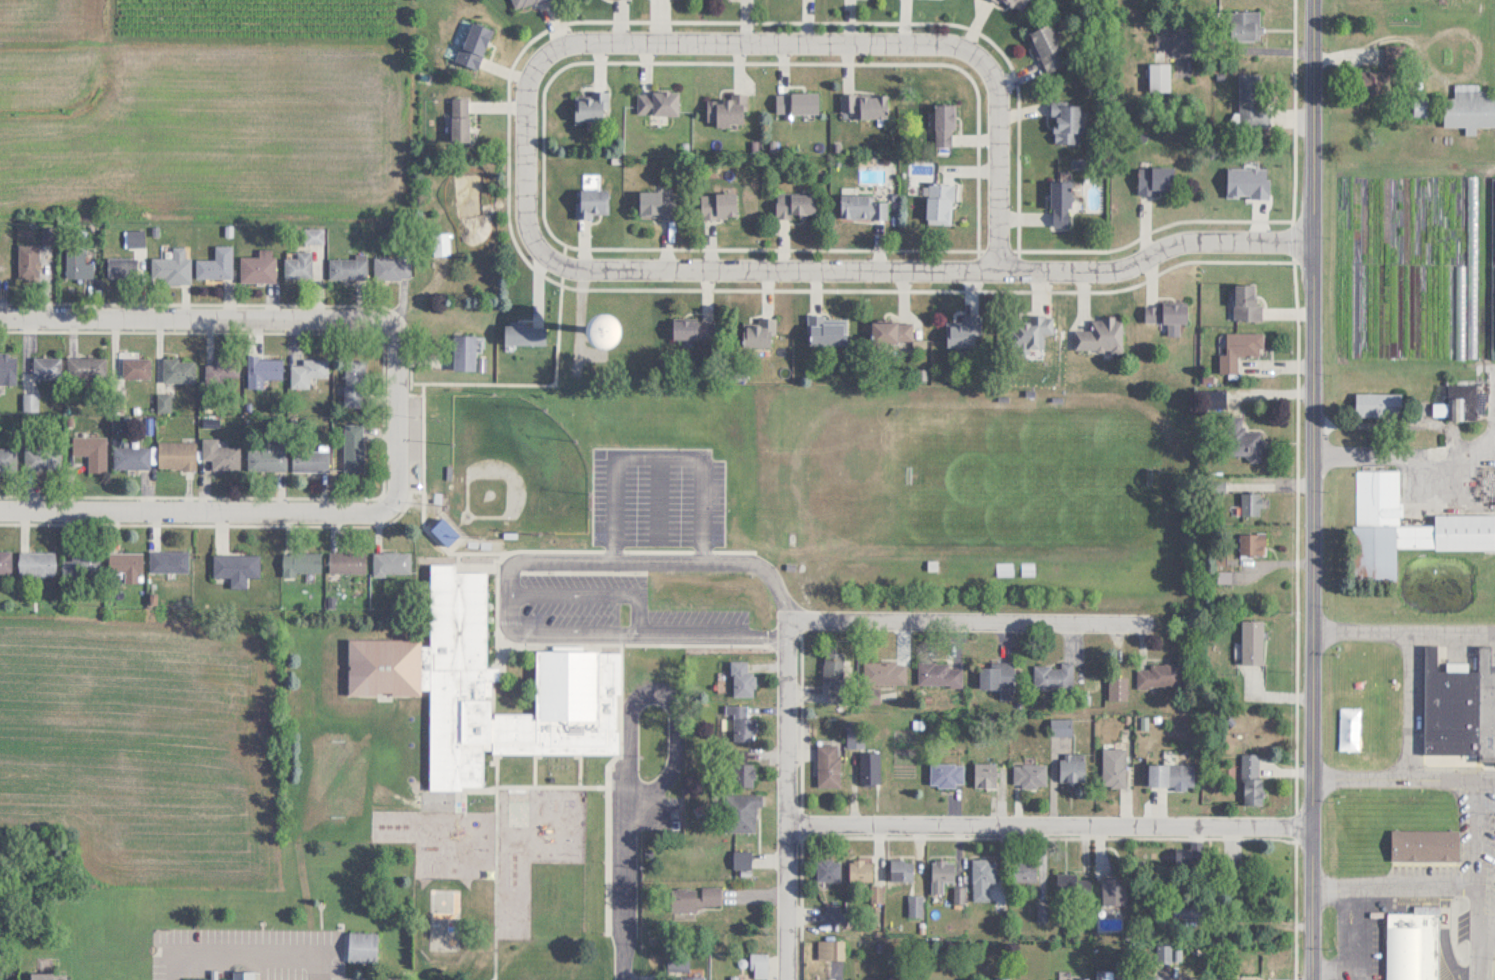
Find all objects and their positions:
building: (522, 3)
building: (1015, 4)
building: (1249, 25)
building: (473, 45)
building: (1046, 46)
road: (1250, 49)
road: (760, 51)
building: (1160, 77)
building: (1374, 81)
building: (1251, 98)
building: (796, 101)
building: (657, 102)
building: (864, 104)
building: (592, 106)
building: (1425, 106)
building: (1469, 108)
building: (725, 109)
building: (458, 119)
building: (1067, 122)
building: (944, 124)
road: (1004, 154)
road: (522, 166)
building: (1156, 179)
building: (592, 202)
building: (939, 202)
building: (1060, 203)
building: (656, 204)
building: (718, 204)
building: (795, 204)
building: (862, 206)
building: (134, 238)
building: (442, 244)
building: (83, 260)
building: (27, 261)
building: (215, 263)
building: (256, 264)
building: (1493, 264)
building: (298, 265)
road: (928, 265)
building: (122, 266)
building: (1473, 266)
building: (171, 267)
building: (348, 268)
building: (392, 268)
building: (1247, 302)
building: (1448, 310)
building: (1166, 313)
road: (194, 328)
building: (693, 329)
building: (826, 330)
building: (891, 331)
building: (759, 332)
building: (1032, 332)
building: (524, 334)
building: (1101, 335)
building: (1240, 349)
building: (464, 352)
building: (46, 366)
building: (87, 366)
building: (7, 367)
building: (135, 367)
building: (178, 369)
building: (262, 369)
building: (220, 370)
building: (308, 371)
building: (354, 382)
building: (1455, 402)
building: (1377, 403)
road: (394, 427)
building: (1243, 440)
building: (353, 447)
building: (91, 451)
road: (1412, 454)
building: (176, 455)
building: (219, 455)
road: (658, 455)
building: (266, 456)
building: (43, 457)
building: (131, 457)
building: (7, 458)
building: (309, 460)
park: (514, 467)
road: (1314, 490)
road: (658, 498)
building: (1249, 503)
road: (193, 521)
building: (1405, 526)
building: (444, 531)
building: (1252, 543)
building: (168, 560)
building: (5, 561)
building: (303, 561)
building: (36, 562)
building: (346, 562)
building: (391, 562)
building: (81, 564)
building: (125, 565)
building: (235, 566)
building: (1005, 568)
road: (507, 574)
road: (974, 619)
road: (1403, 631)
building: (1252, 642)
building: (886, 672)
building: (940, 674)
building: (997, 676)
building: (1053, 676)
building: (1160, 676)
building: (835, 677)
building: (742, 680)
building: (488, 687)
building: (1117, 688)
road: (662, 693)
road: (1413, 705)
building: (1486, 705)
building: (1450, 707)
building: (741, 724)
building: (828, 765)
building: (868, 767)
building: (1072, 767)
building: (1114, 767)
building: (947, 774)
building: (741, 775)
building: (985, 775)
building: (1030, 775)
building: (1171, 775)
road: (1402, 777)
building: (1252, 780)
road: (792, 803)
building: (743, 812)
road: (1051, 825)
road: (1474, 831)
building: (1425, 845)
building: (1196, 852)
building: (742, 859)
building: (828, 870)
building: (902, 870)
building: (1024, 870)
building: (860, 871)
building: (942, 874)
building: (982, 878)
road: (1411, 885)
building: (1113, 892)
road: (627, 894)
building: (1401, 898)
building: (692, 901)
building: (915, 906)
road: (1353, 933)
building: (1413, 944)
road: (1481, 944)
building: (361, 947)
building: (830, 950)
road: (248, 953)
building: (1163, 953)
building: (758, 966)
road: (1333, 969)
building: (242, 975)
building: (1106, 975)
building: (46, 976)
building: (691, 978)
building: (1148, 978)

